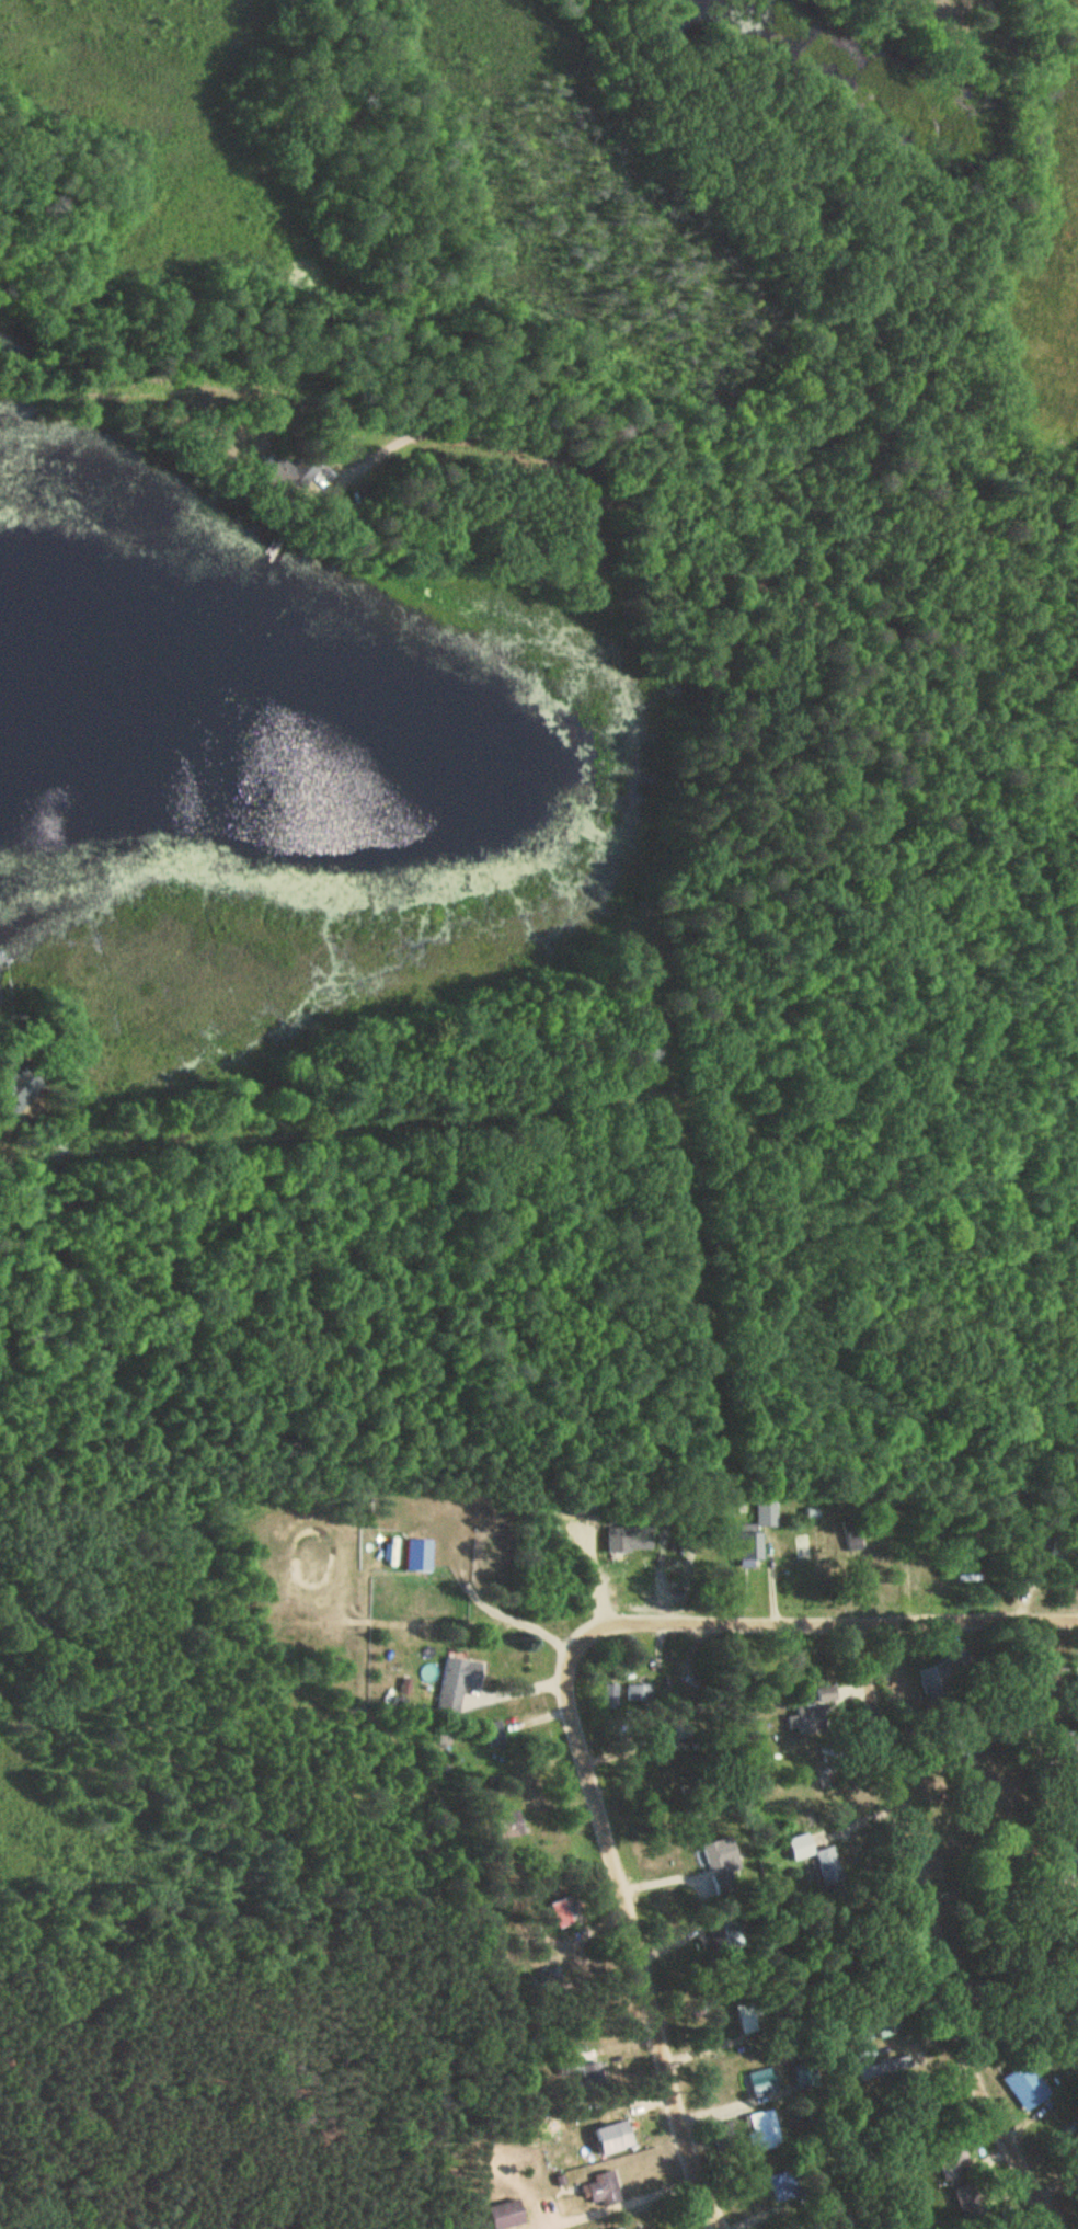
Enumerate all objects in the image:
road: (915, 781)
building: (26, 1096)
building: (764, 1530)
building: (624, 1538)
building: (416, 1553)
road: (827, 1625)
building: (457, 1682)
building: (639, 1692)
building: (609, 1698)
building: (689, 1706)
building: (806, 1717)
building: (695, 1737)
building: (722, 1859)
building: (647, 1865)
building: (828, 1866)
building: (565, 1912)
road: (640, 1934)
building: (731, 1935)
road: (937, 1937)
building: (805, 2074)
building: (762, 2080)
building: (1025, 2087)
building: (764, 2129)
building: (723, 2135)
building: (615, 2137)
building: (953, 2163)
building: (782, 2185)
building: (604, 2187)
building: (966, 2199)
building: (506, 2214)
building: (620, 2228)
building: (634, 2228)

